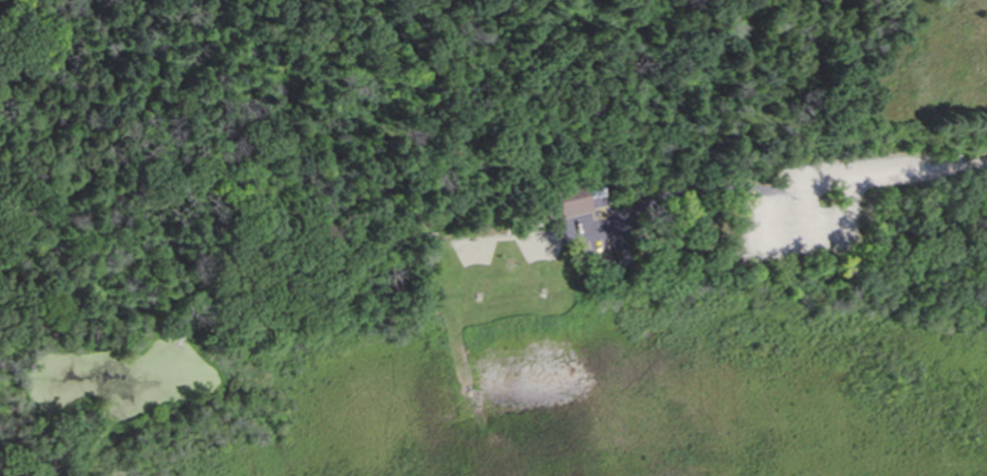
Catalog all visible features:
building: (566, 204)

